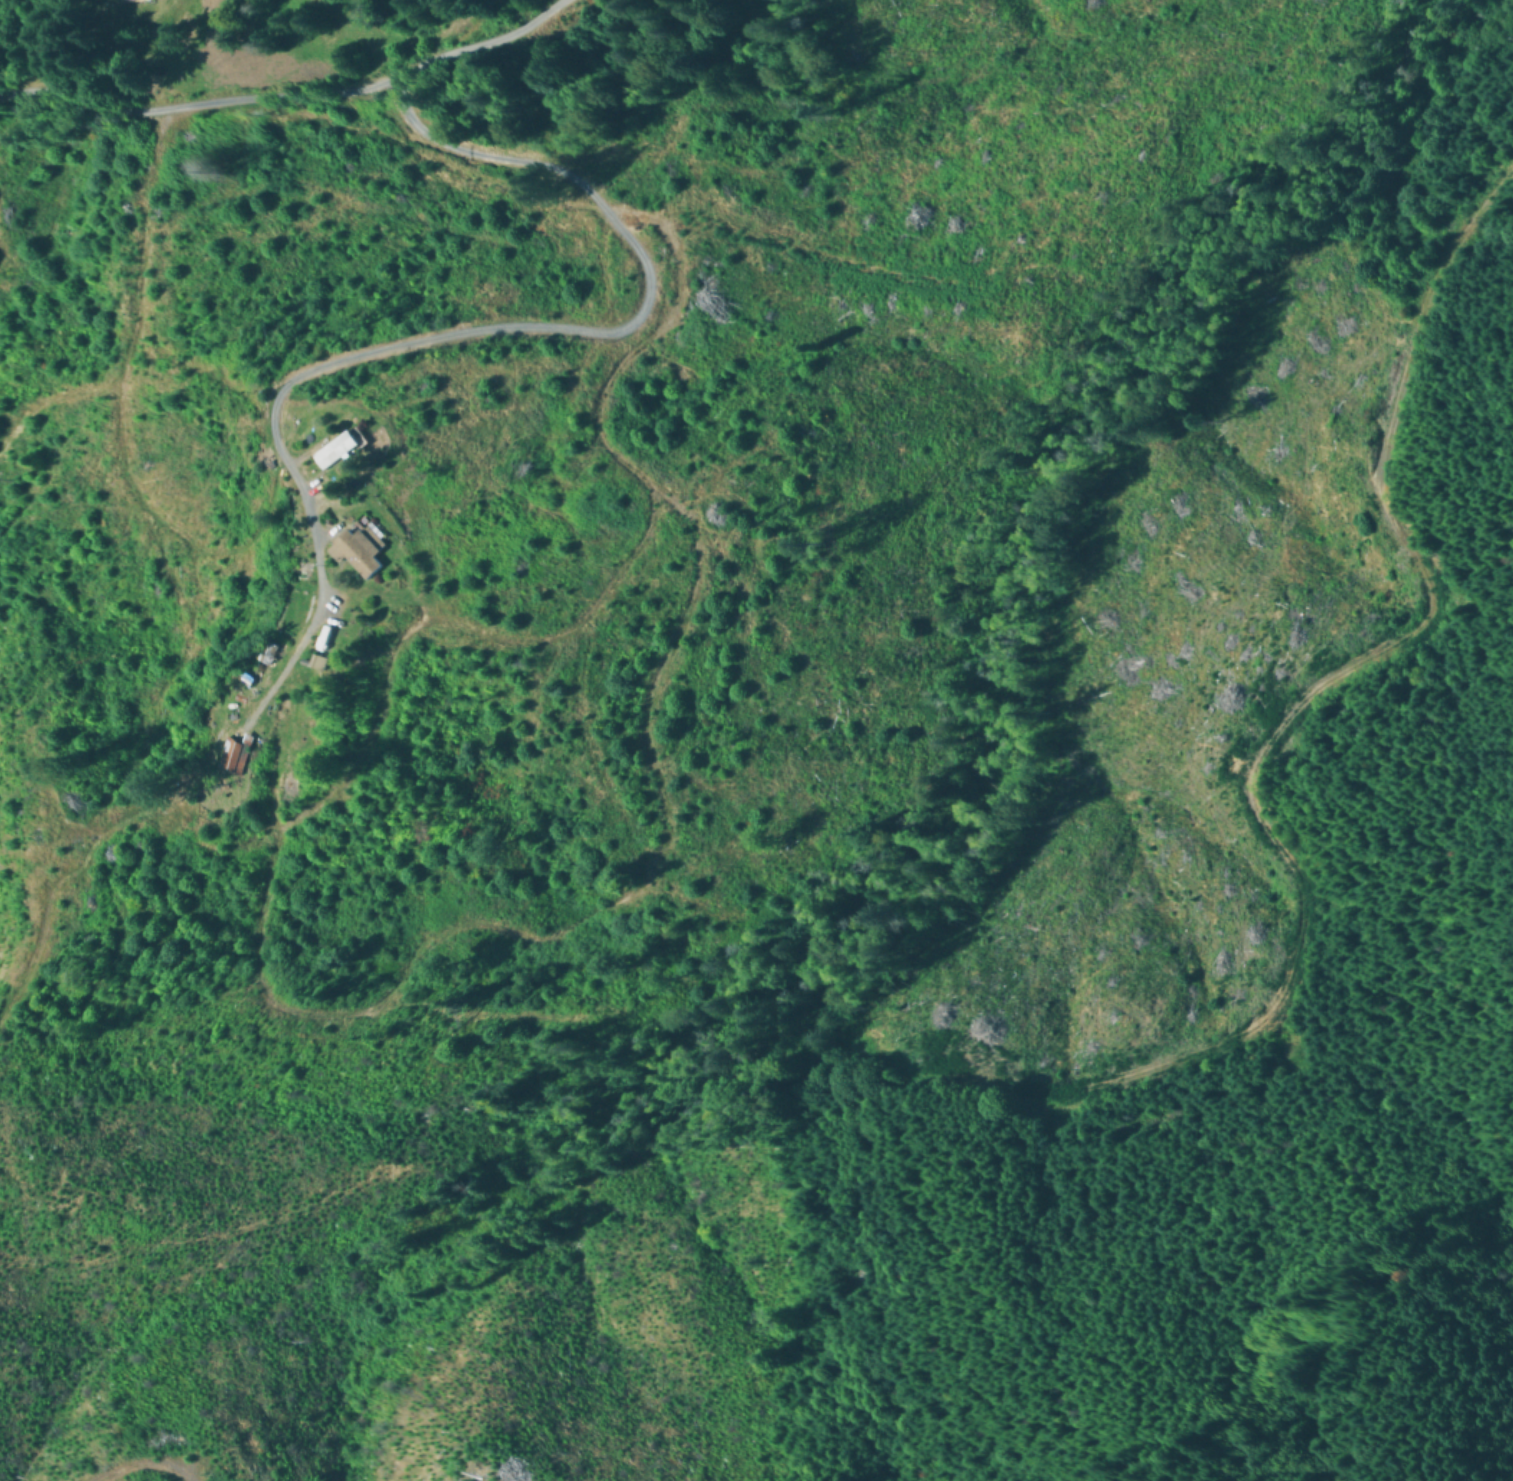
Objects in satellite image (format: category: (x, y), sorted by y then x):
road: (342, 90)
road: (557, 328)
building: (336, 452)
building: (359, 556)
building: (236, 759)
road: (1250, 769)
road: (220, 802)

